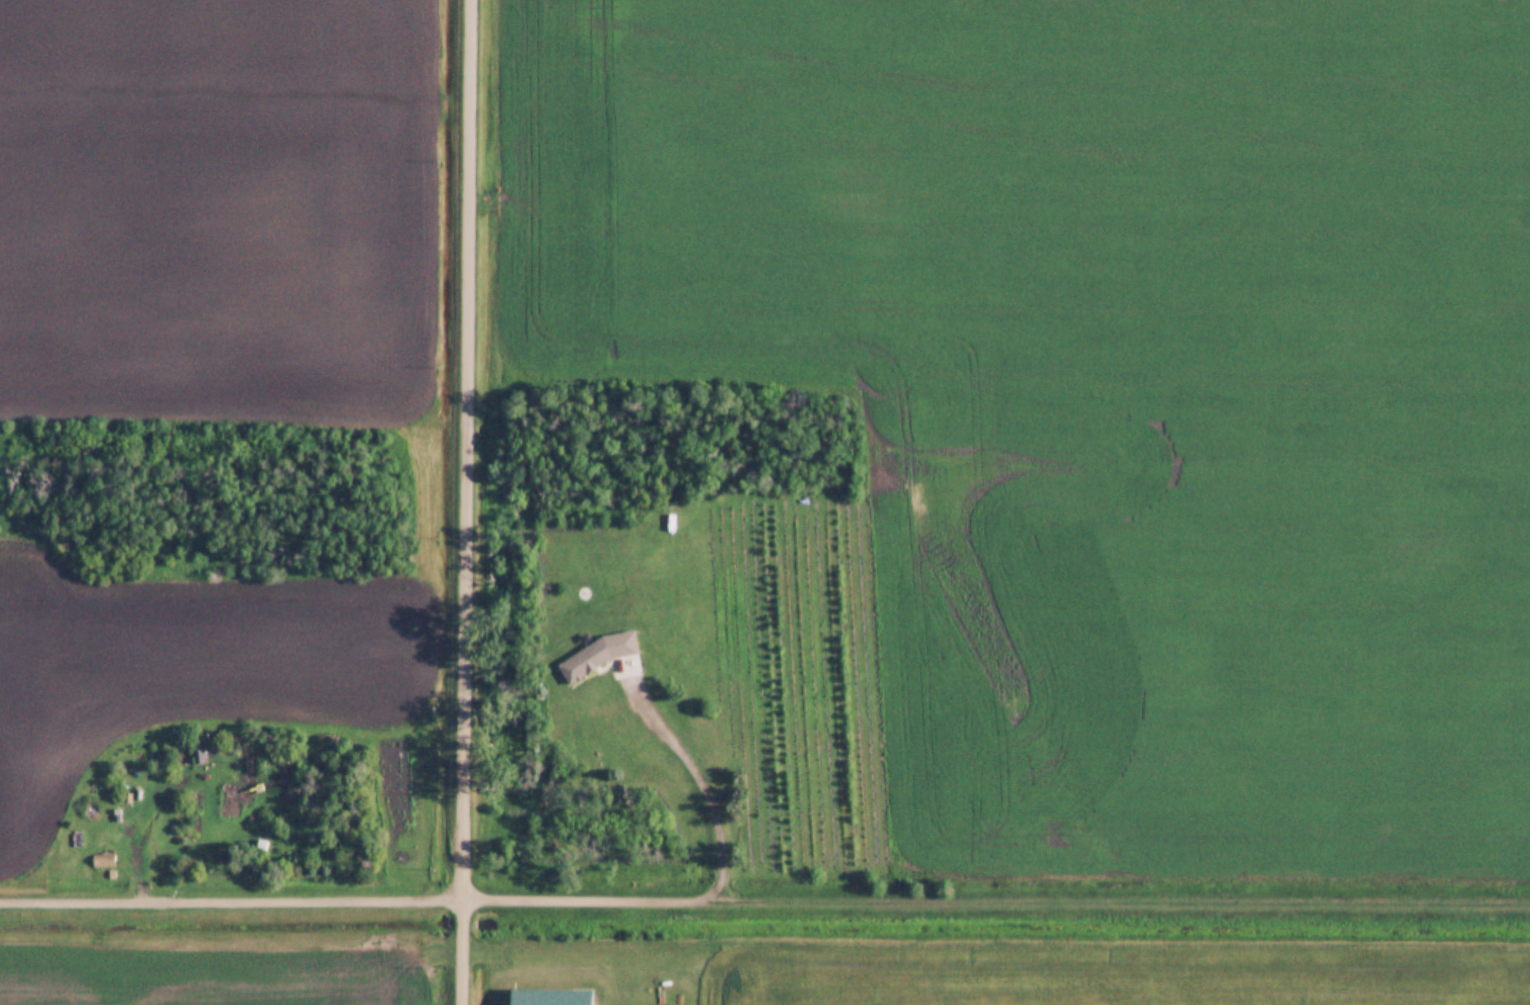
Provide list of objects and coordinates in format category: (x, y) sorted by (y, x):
road: (466, 502)
building: (594, 653)
road: (705, 783)
road: (231, 895)
road: (587, 895)
road: (1120, 902)

